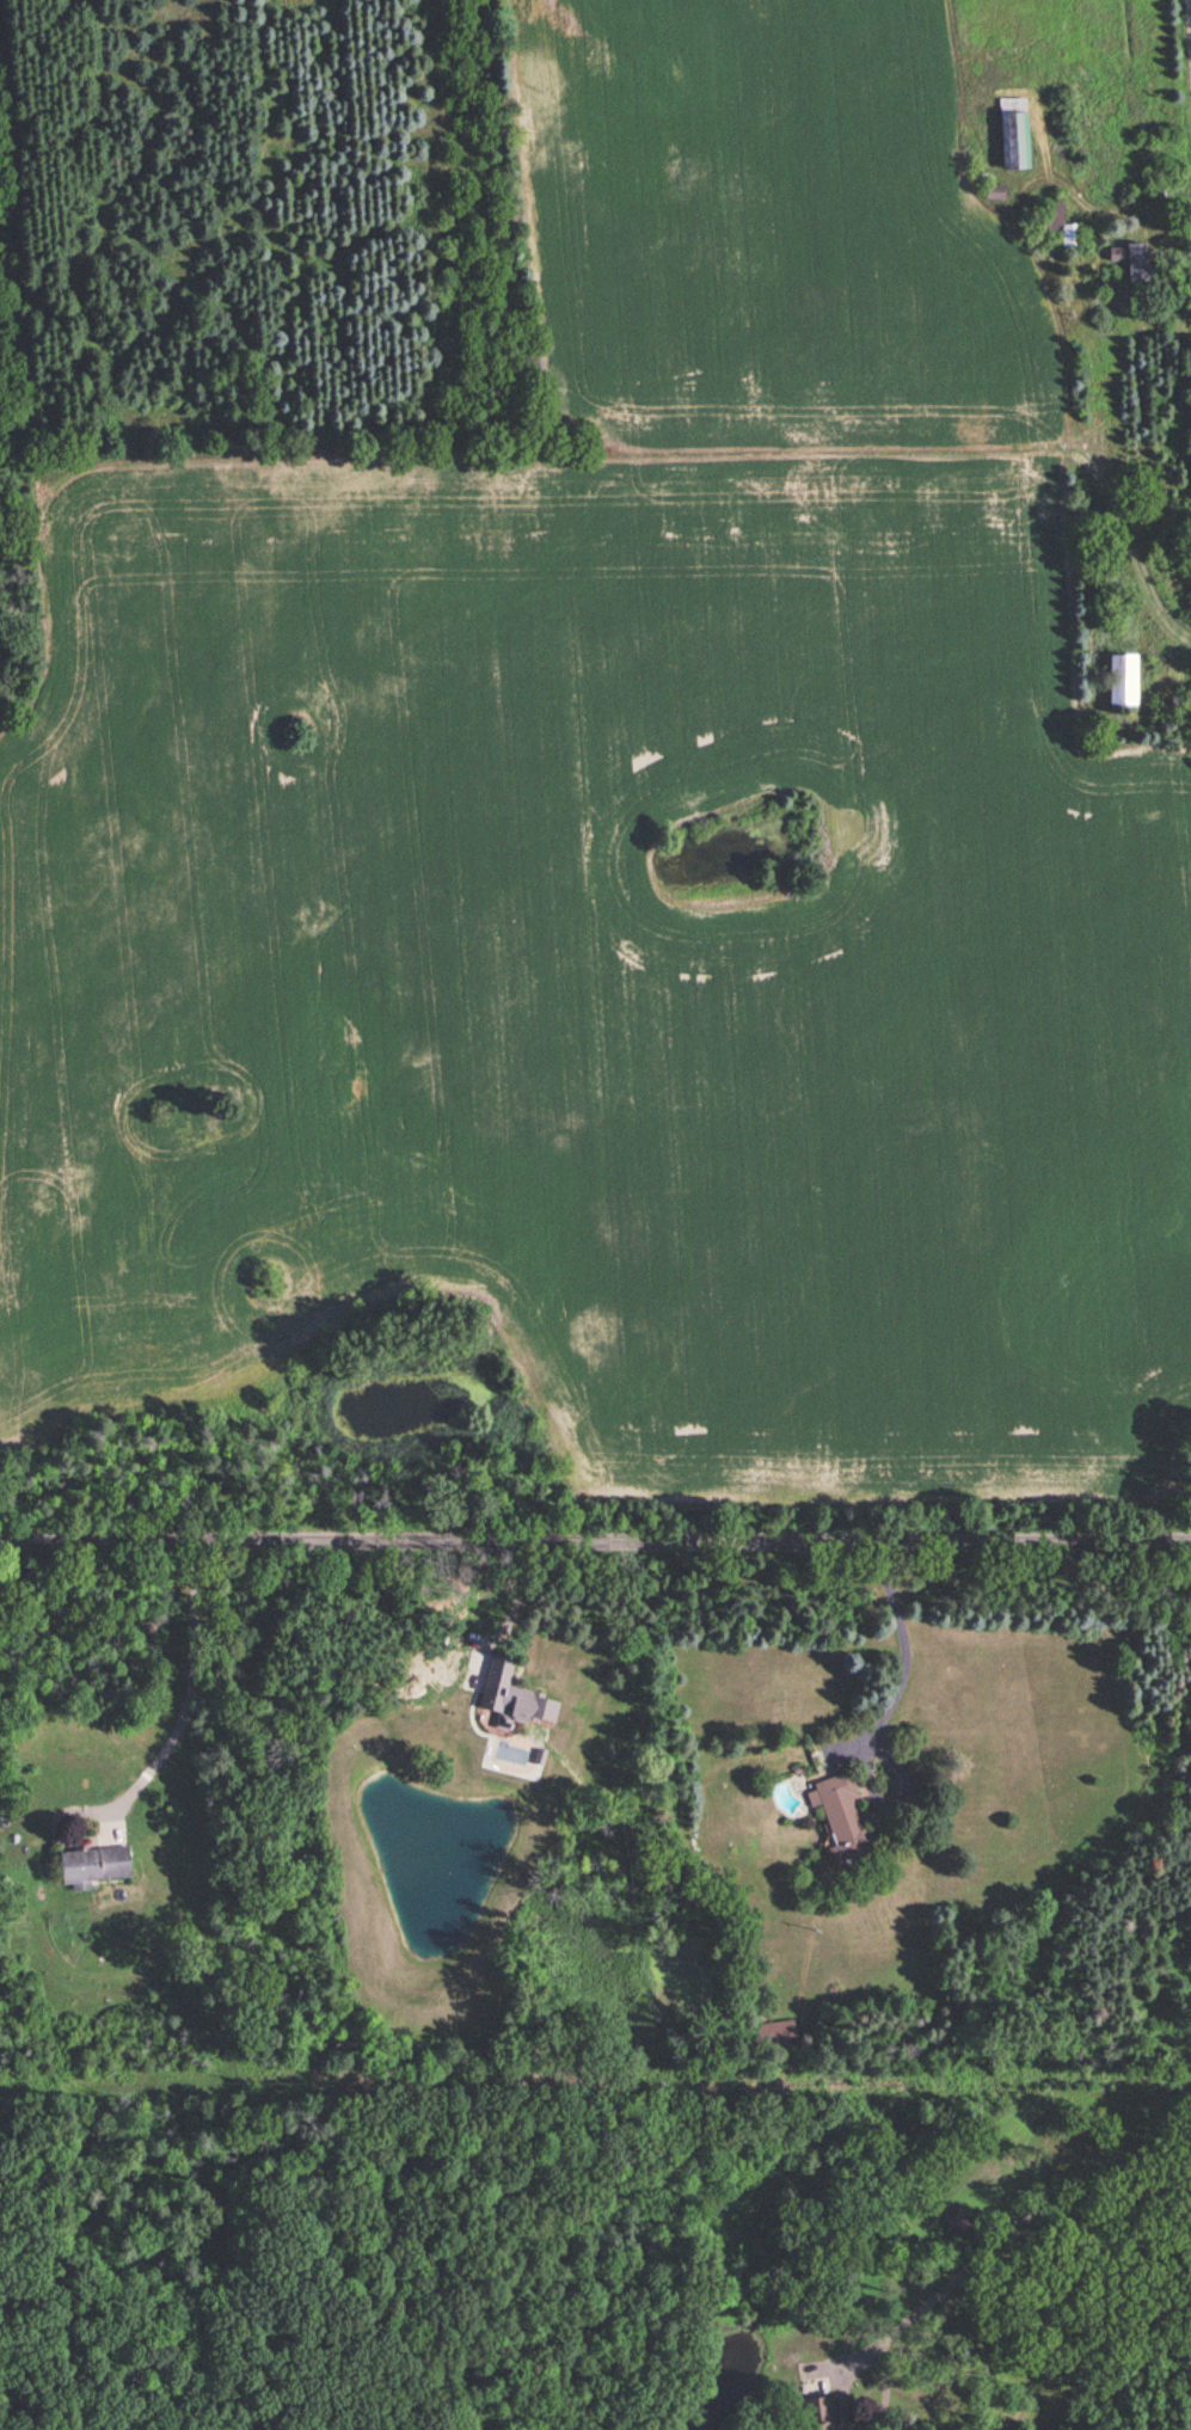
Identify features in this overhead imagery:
building: (1014, 128)
building: (993, 189)
crop: (774, 229)
building: (1069, 231)
building: (1135, 259)
building: (1121, 676)
crop: (602, 952)
road: (595, 1539)
road: (903, 1655)
road: (189, 1695)
building: (511, 1695)
building: (840, 1812)
building: (92, 1863)
building: (773, 2029)
building: (957, 2219)
road: (1000, 2242)
building: (816, 2412)

